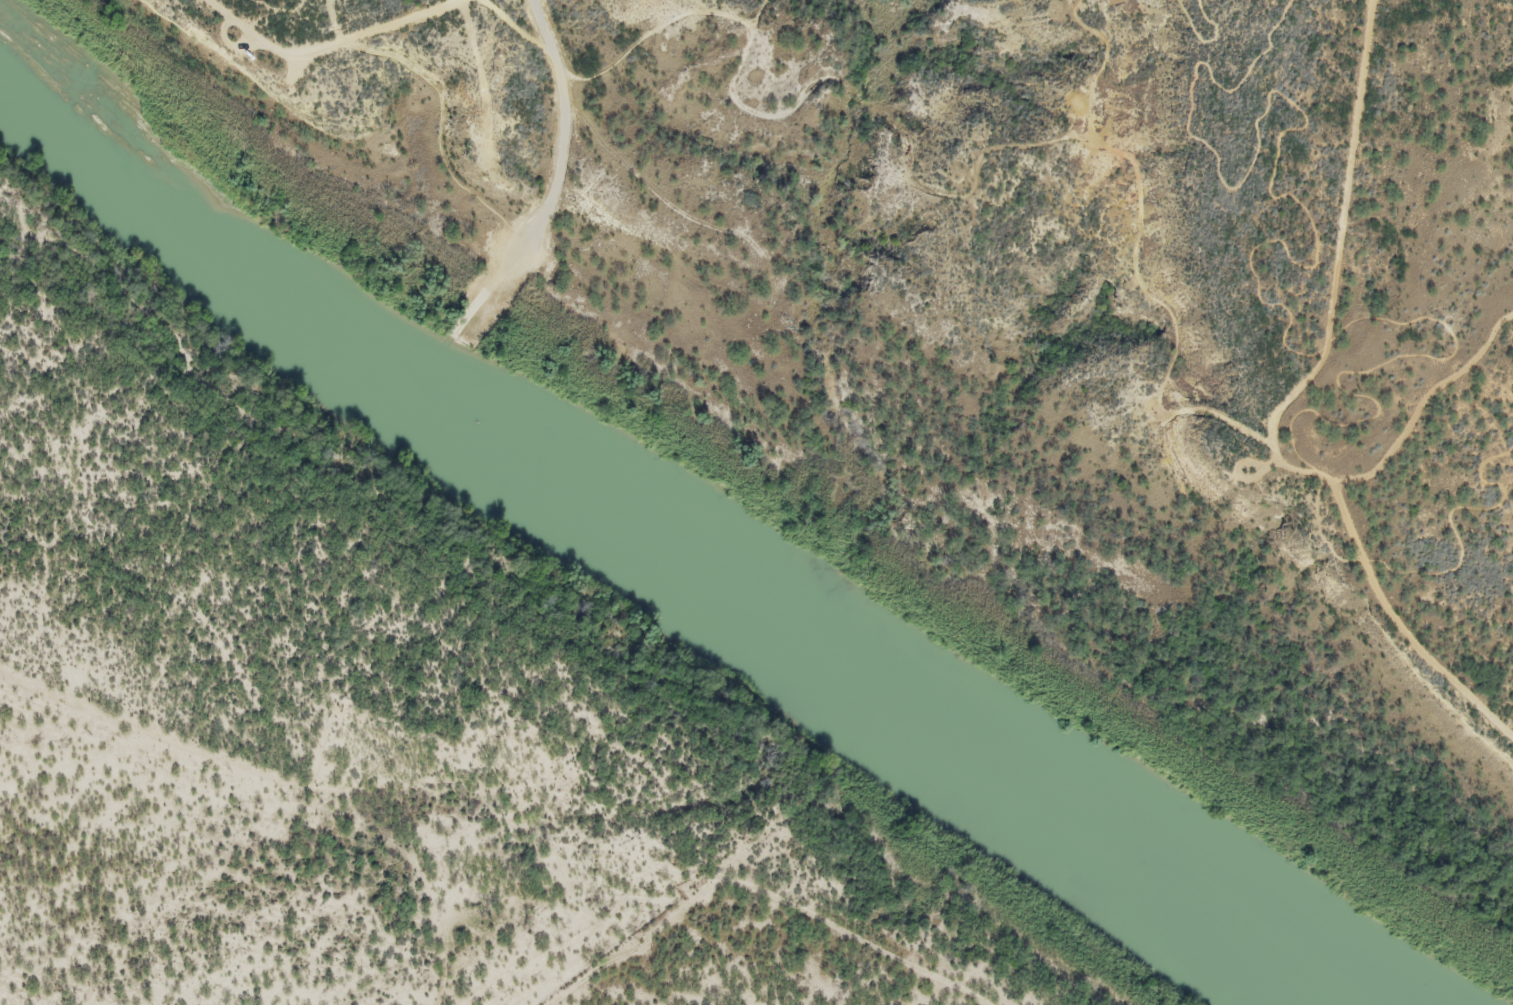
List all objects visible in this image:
river: (667, 549)

